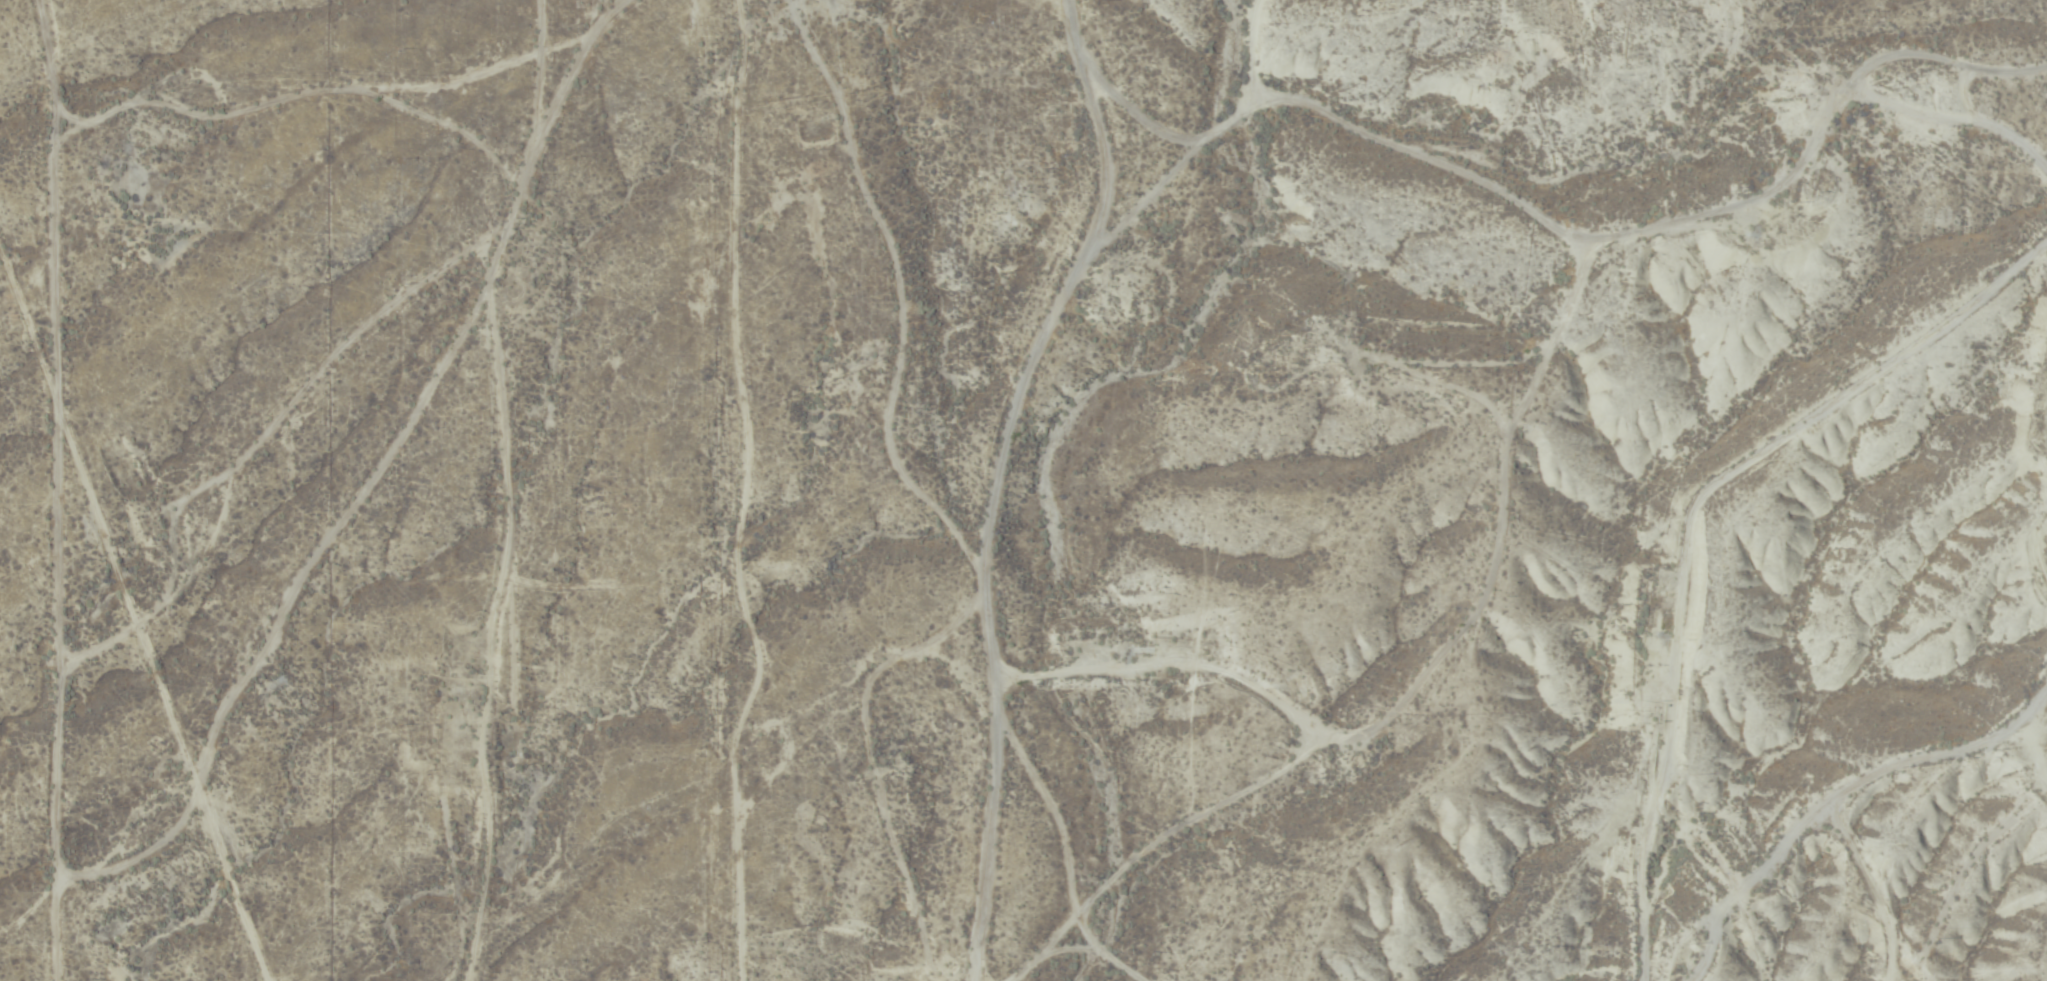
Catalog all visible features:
road: (1506, 246)
road: (515, 491)
road: (984, 552)
road: (1909, 746)

